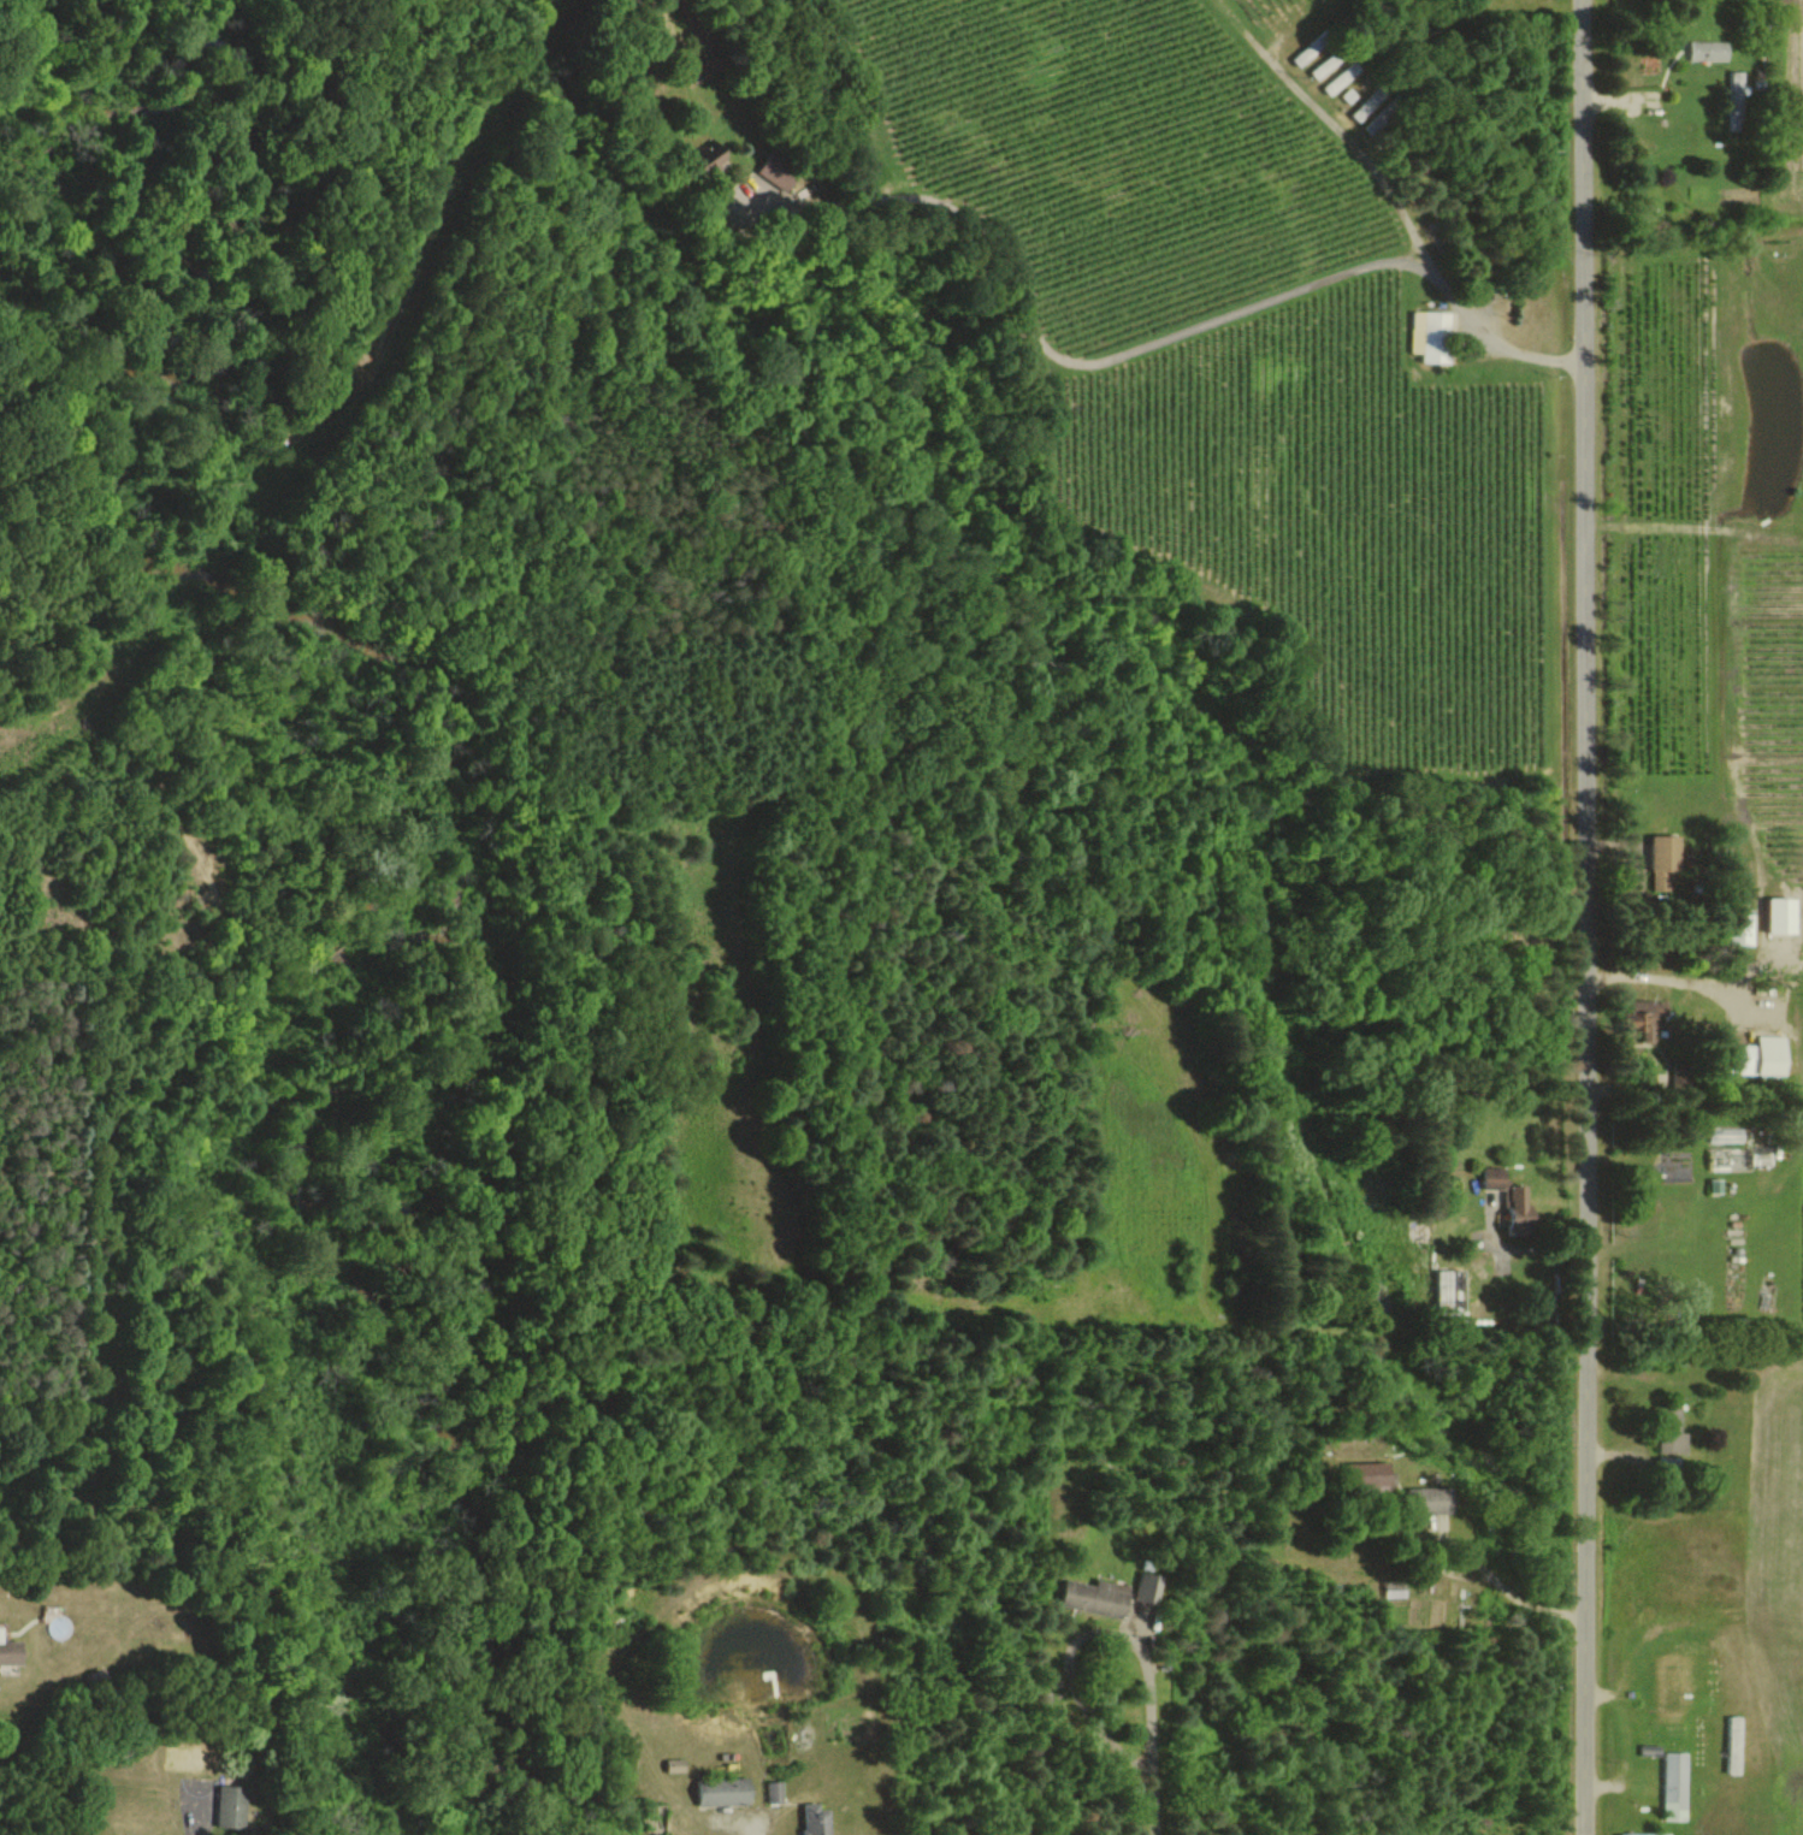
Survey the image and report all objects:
building: (1709, 49)
building: (1736, 100)
building: (1376, 109)
road: (1330, 123)
building: (704, 164)
building: (778, 170)
building: (1432, 335)
road: (1143, 343)
building: (1666, 862)
building: (1784, 914)
road: (1584, 917)
building: (1742, 933)
road: (1673, 976)
building: (1647, 1018)
building: (1767, 1055)
building: (1726, 1135)
building: (1513, 1201)
building: (1452, 1290)
building: (1673, 1442)
building: (1370, 1474)
building: (1431, 1499)
building: (1395, 1586)
road: (1501, 1586)
building: (1148, 1587)
building: (1096, 1597)
road: (1089, 1632)
building: (11, 1650)
building: (676, 1764)
building: (1677, 1781)
building: (725, 1790)
building: (774, 1792)
building: (232, 1806)
road: (1154, 1810)
building: (816, 1819)
building: (1627, 1834)

